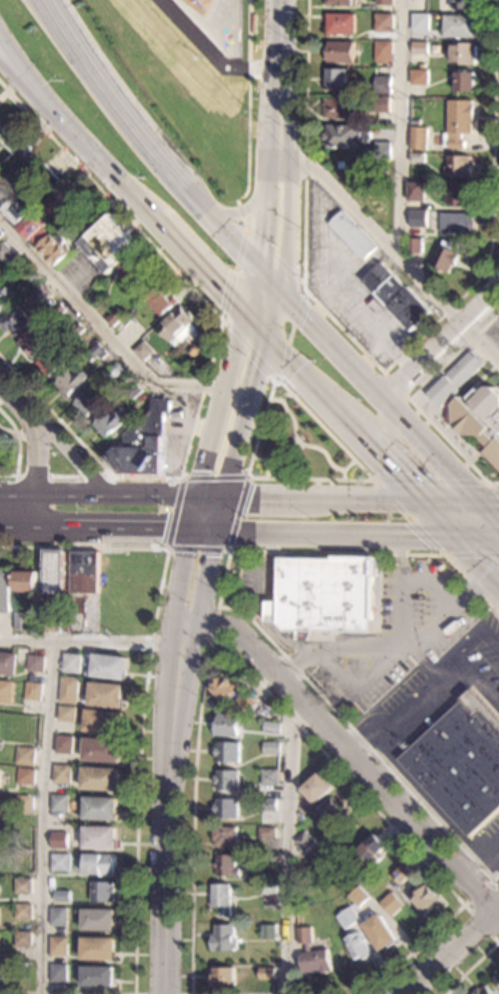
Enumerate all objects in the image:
building: (384, 2)
building: (342, 3)
building: (462, 4)
building: (420, 22)
building: (383, 23)
building: (340, 24)
building: (458, 26)
building: (420, 48)
building: (383, 51)
building: (340, 52)
road: (210, 53)
building: (462, 53)
road: (279, 59)
road: (19, 66)
building: (421, 66)
building: (418, 77)
road: (19, 79)
building: (336, 79)
building: (465, 82)
building: (383, 84)
road: (248, 102)
building: (381, 104)
building: (341, 108)
building: (415, 120)
building: (459, 121)
road: (401, 127)
road: (71, 132)
building: (0, 136)
road: (144, 137)
building: (345, 137)
building: (419, 138)
road: (273, 150)
building: (383, 150)
building: (417, 158)
building: (458, 166)
road: (118, 179)
building: (2, 192)
building: (417, 192)
building: (460, 193)
building: (52, 204)
road: (144, 206)
building: (15, 211)
road: (241, 214)
road: (245, 216)
building: (418, 218)
building: (457, 223)
road: (261, 224)
building: (71, 226)
building: (34, 228)
road: (288, 228)
road: (246, 231)
building: (0, 232)
traffic signals: (260, 233)
building: (352, 234)
building: (415, 246)
road: (392, 247)
building: (53, 249)
building: (115, 249)
building: (5, 250)
building: (445, 257)
road: (201, 266)
building: (30, 280)
road: (268, 280)
traffic signals: (222, 287)
road: (251, 289)
building: (21, 290)
building: (40, 294)
building: (5, 296)
building: (397, 296)
building: (162, 299)
building: (58, 310)
building: (114, 317)
traffic signals: (304, 318)
building: (15, 321)
road: (257, 324)
building: (176, 325)
building: (75, 331)
road: (109, 339)
road: (490, 340)
building: (33, 341)
road: (445, 343)
building: (143, 350)
building: (96, 351)
building: (193, 352)
road: (213, 353)
building: (50, 362)
road: (291, 362)
road: (259, 366)
road: (387, 368)
building: (114, 371)
traffic signals: (258, 371)
building: (456, 378)
building: (71, 382)
road: (397, 385)
building: (134, 390)
road: (377, 394)
road: (21, 400)
road: (413, 400)
building: (90, 402)
road: (335, 409)
road: (263, 420)
building: (480, 420)
road: (217, 421)
building: (109, 422)
road: (18, 435)
building: (143, 444)
road: (236, 446)
road: (19, 447)
road: (75, 458)
road: (387, 464)
road: (65, 475)
road: (97, 476)
road: (34, 477)
road: (383, 489)
road: (51, 494)
road: (111, 494)
traffic signals: (198, 496)
traffic signals: (223, 496)
road: (320, 497)
traffic signals: (418, 499)
road: (458, 499)
traffic signals: (472, 500)
road: (219, 514)
road: (485, 515)
road: (436, 520)
road: (16, 531)
road: (111, 531)
traffic signals: (190, 532)
road: (202, 532)
traffic signals: (215, 532)
road: (334, 536)
traffic signals: (454, 541)
road: (476, 541)
road: (230, 548)
road: (402, 558)
road: (476, 564)
building: (53, 571)
building: (83, 571)
road: (182, 576)
road: (204, 579)
building: (26, 581)
building: (5, 592)
road: (473, 592)
building: (327, 594)
road: (272, 605)
road: (455, 606)
building: (271, 611)
road: (242, 612)
road: (403, 614)
building: (21, 620)
road: (214, 622)
building: (50, 624)
road: (89, 642)
road: (490, 643)
road: (469, 646)
road: (362, 651)
building: (7, 663)
building: (35, 663)
building: (70, 663)
building: (108, 666)
road: (434, 677)
road: (346, 682)
road: (478, 682)
building: (224, 689)
building: (68, 690)
building: (32, 691)
building: (5, 692)
building: (106, 695)
building: (245, 704)
building: (66, 714)
road: (397, 719)
building: (103, 721)
building: (227, 726)
building: (272, 728)
building: (64, 744)
building: (270, 748)
building: (101, 750)
building: (228, 752)
road: (351, 752)
road: (139, 753)
building: (25, 756)
building: (461, 763)
building: (61, 774)
building: (0, 775)
building: (303, 775)
building: (25, 776)
building: (269, 777)
building: (100, 779)
building: (226, 781)
building: (316, 789)
building: (59, 803)
building: (24, 804)
building: (269, 805)
road: (168, 807)
building: (100, 809)
building: (226, 809)
building: (329, 813)
road: (41, 817)
building: (267, 833)
building: (225, 836)
building: (99, 837)
building: (59, 840)
building: (304, 842)
road: (287, 845)
road: (489, 848)
building: (369, 854)
building: (267, 861)
building: (60, 862)
building: (99, 864)
building: (226, 866)
building: (401, 875)
building: (22, 886)
building: (268, 889)
building: (102, 891)
building: (378, 894)
building: (61, 896)
building: (357, 898)
building: (221, 899)
building: (426, 899)
building: (389, 904)
road: (462, 906)
building: (22, 912)
building: (58, 916)
building: (98, 919)
building: (347, 919)
building: (268, 933)
building: (380, 933)
building: (22, 939)
building: (224, 939)
building: (58, 946)
building: (357, 947)
road: (453, 947)
building: (98, 949)
building: (311, 954)
road: (472, 965)
building: (266, 974)
building: (2, 976)
building: (98, 976)
building: (57, 977)
building: (223, 978)
building: (496, 978)
road: (345, 985)
building: (483, 991)
road: (161, 993)

